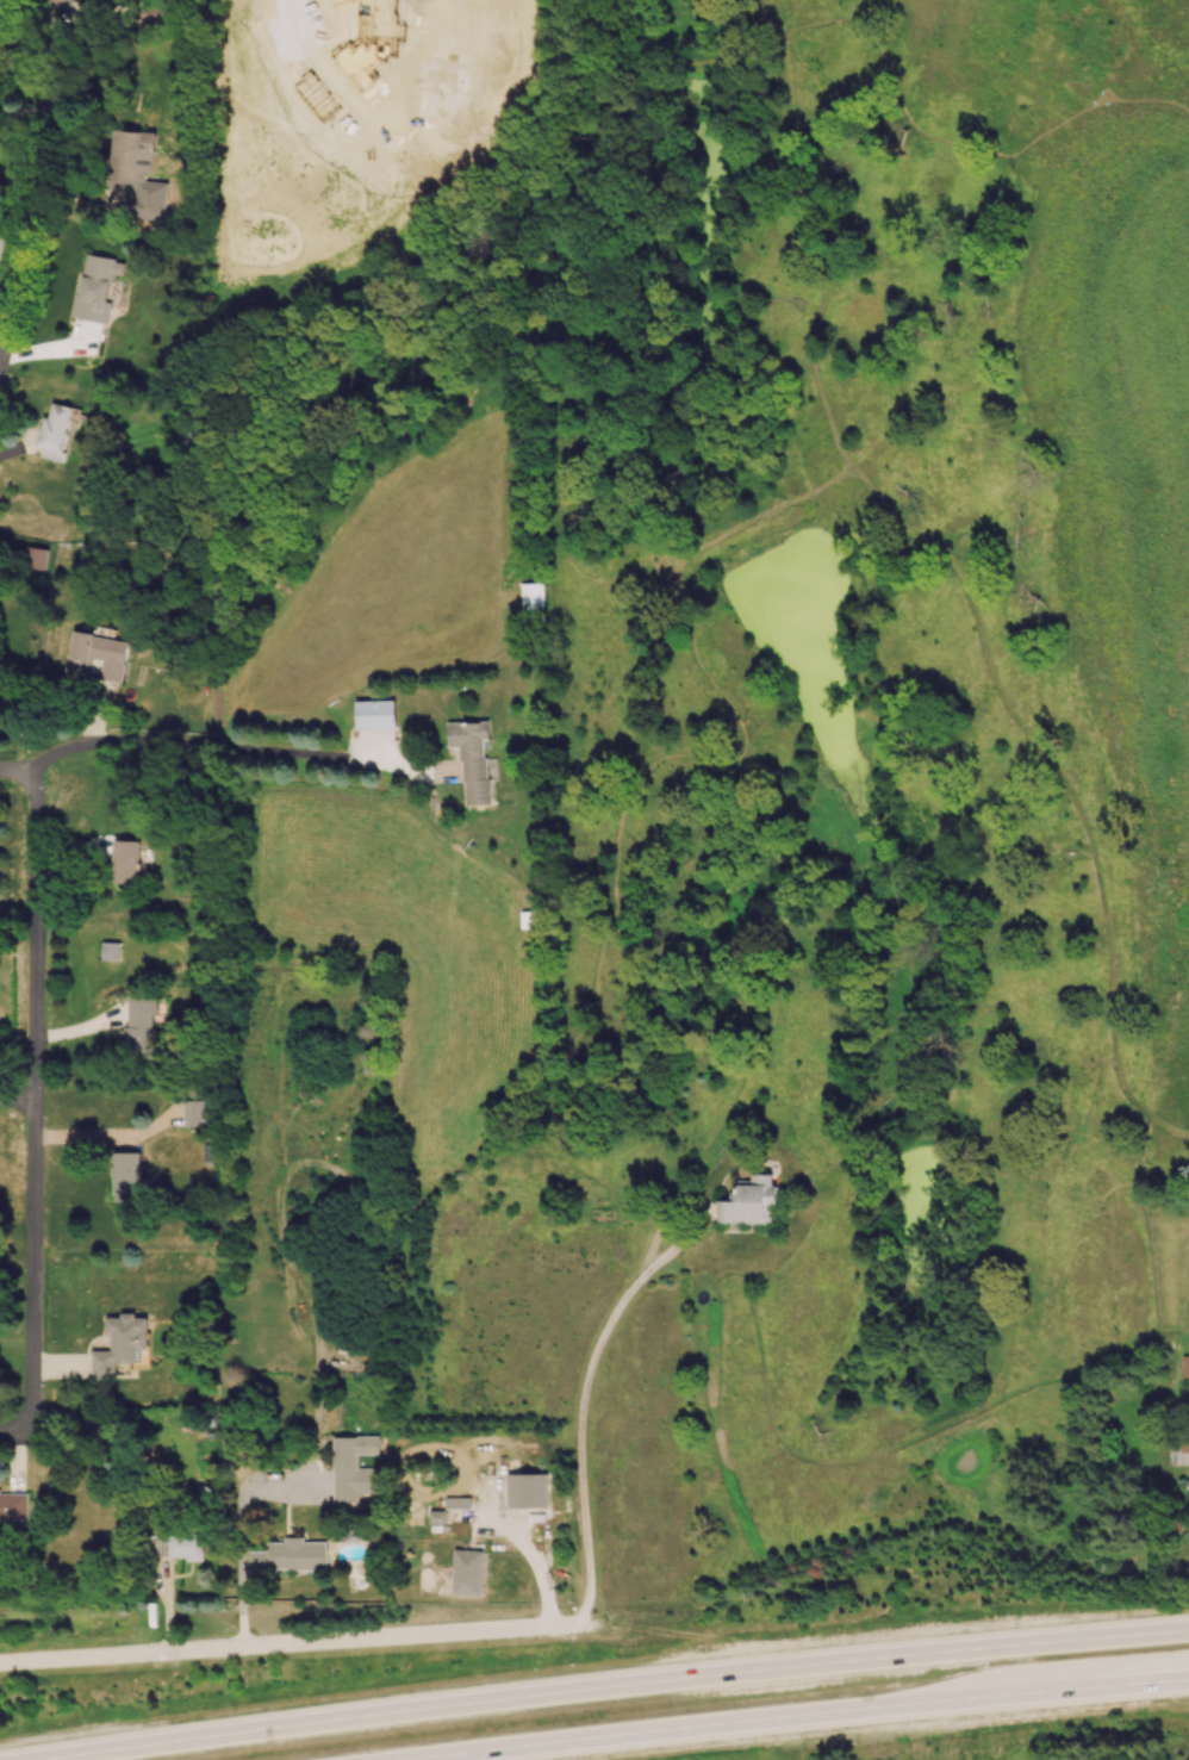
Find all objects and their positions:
building: (54, 2)
road: (56, 39)
building: (354, 41)
building: (253, 131)
building: (131, 158)
building: (311, 176)
road: (39, 192)
building: (97, 286)
road: (1, 328)
building: (55, 430)
dam: (749, 533)
building: (36, 556)
building: (531, 597)
building: (95, 655)
building: (374, 713)
road: (201, 747)
building: (472, 758)
road: (14, 776)
building: (125, 860)
road: (36, 940)
building: (110, 950)
building: (139, 1024)
road: (17, 1105)
building: (194, 1112)
road: (33, 1124)
road: (101, 1139)
building: (125, 1173)
building: (749, 1201)
road: (33, 1300)
building: (120, 1343)
building: (1185, 1366)
road: (585, 1417)
building: (1179, 1450)
building: (353, 1466)
building: (527, 1490)
building: (14, 1505)
building: (436, 1516)
building: (186, 1546)
building: (288, 1556)
road: (535, 1560)
building: (467, 1572)
road: (306, 1646)
road: (609, 1689)
road: (824, 1717)

